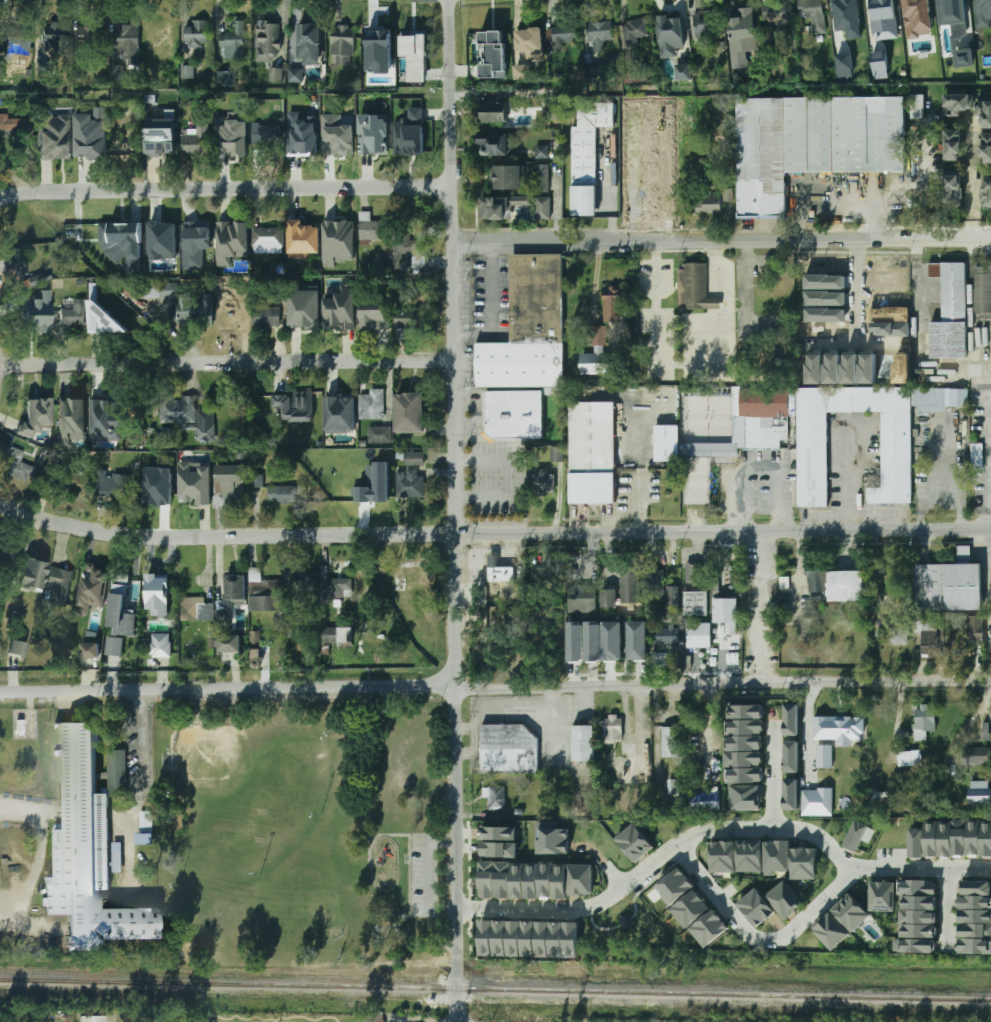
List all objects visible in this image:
building: (916, 2)
building: (949, 2)
building: (984, 2)
building: (850, 5)
building: (876, 12)
building: (774, 14)
building: (813, 14)
building: (706, 24)
building: (633, 31)
building: (196, 33)
building: (563, 34)
building: (51, 35)
building: (161, 35)
building: (597, 35)
building: (86, 36)
building: (670, 36)
building: (741, 36)
building: (268, 37)
building: (529, 39)
building: (232, 40)
building: (126, 42)
building: (309, 43)
building: (341, 45)
building: (13, 47)
building: (379, 50)
building: (493, 53)
building: (415, 55)
building: (964, 58)
building: (880, 65)
building: (845, 66)
building: (592, 69)
building: (683, 71)
building: (117, 72)
building: (187, 72)
building: (522, 72)
building: (276, 74)
building: (294, 76)
building: (226, 78)
road: (515, 93)
building: (958, 104)
building: (918, 106)
building: (552, 110)
building: (631, 111)
building: (665, 111)
building: (100, 112)
building: (493, 112)
building: (987, 115)
building: (14, 124)
building: (631, 130)
building: (664, 130)
building: (374, 133)
building: (411, 133)
building: (265, 134)
building: (334, 138)
building: (53, 139)
building: (194, 141)
building: (298, 141)
building: (86, 143)
building: (160, 143)
building: (812, 143)
building: (494, 144)
building: (954, 145)
building: (127, 146)
building: (230, 148)
building: (986, 148)
building: (631, 151)
building: (665, 151)
building: (542, 152)
building: (587, 155)
building: (530, 170)
building: (666, 170)
building: (632, 171)
building: (507, 178)
building: (542, 178)
road: (971, 179)
building: (954, 190)
road: (225, 191)
building: (631, 191)
building: (665, 191)
building: (987, 192)
road: (609, 198)
building: (705, 204)
building: (502, 206)
building: (542, 208)
building: (631, 211)
building: (666, 212)
building: (370, 228)
building: (266, 238)
building: (339, 238)
building: (110, 241)
building: (160, 241)
building: (303, 241)
building: (195, 242)
road: (722, 242)
building: (230, 244)
building: (407, 252)
building: (13, 263)
building: (694, 288)
building: (982, 289)
building: (126, 291)
road: (721, 293)
road: (857, 301)
building: (181, 302)
building: (614, 303)
road: (654, 303)
road: (491, 306)
building: (328, 307)
building: (949, 312)
building: (229, 313)
building: (369, 315)
building: (32, 318)
building: (266, 318)
building: (68, 320)
building: (302, 320)
building: (104, 321)
building: (403, 324)
building: (528, 327)
building: (892, 329)
road: (833, 342)
building: (595, 362)
road: (227, 363)
building: (851, 368)
building: (902, 368)
building: (815, 369)
building: (833, 369)
building: (868, 369)
building: (885, 369)
building: (931, 399)
building: (370, 405)
building: (293, 406)
building: (103, 408)
building: (409, 412)
building: (336, 413)
building: (20, 414)
building: (514, 414)
building: (35, 415)
building: (68, 416)
building: (186, 416)
building: (762, 417)
building: (378, 434)
building: (667, 443)
building: (813, 450)
building: (592, 452)
building: (557, 454)
building: (977, 457)
building: (414, 458)
road: (937, 463)
building: (14, 465)
road: (757, 466)
road: (849, 477)
building: (47, 480)
building: (255, 480)
building: (368, 480)
building: (229, 482)
building: (541, 482)
building: (409, 483)
building: (157, 484)
building: (80, 485)
building: (111, 485)
building: (191, 489)
building: (280, 494)
road: (455, 512)
road: (493, 535)
road: (986, 562)
building: (536, 572)
building: (504, 573)
building: (694, 573)
building: (32, 574)
road: (798, 577)
building: (299, 581)
building: (815, 581)
building: (653, 583)
building: (21, 584)
building: (57, 585)
building: (628, 585)
building: (949, 585)
building: (91, 586)
building: (847, 587)
building: (335, 588)
building: (235, 590)
building: (158, 594)
building: (264, 596)
building: (580, 597)
building: (673, 598)
building: (606, 599)
building: (119, 600)
building: (695, 604)
parking lot: (758, 605)
building: (195, 610)
road: (760, 610)
building: (719, 614)
building: (976, 629)
building: (892, 631)
building: (327, 635)
building: (667, 636)
building: (342, 638)
building: (929, 638)
building: (578, 640)
building: (640, 640)
building: (596, 641)
building: (616, 641)
building: (228, 644)
building: (161, 645)
building: (115, 646)
building: (17, 648)
building: (90, 650)
building: (964, 653)
building: (255, 657)
road: (495, 690)
building: (747, 712)
building: (794, 718)
building: (923, 722)
building: (748, 727)
building: (841, 727)
building: (617, 729)
building: (987, 731)
road: (138, 738)
building: (670, 742)
building: (748, 742)
building: (586, 743)
building: (508, 749)
building: (827, 754)
building: (794, 755)
building: (974, 756)
building: (747, 758)
building: (910, 758)
building: (747, 773)
road: (773, 777)
building: (674, 786)
building: (794, 792)
building: (980, 792)
building: (747, 796)
building: (497, 798)
building: (819, 800)
park: (241, 801)
building: (705, 801)
road: (17, 809)
building: (144, 828)
road: (718, 830)
park: (302, 831)
building: (501, 832)
building: (860, 836)
building: (920, 838)
building: (934, 838)
building: (948, 838)
building: (962, 838)
building: (976, 838)
building: (987, 838)
building: (555, 840)
building: (638, 842)
building: (502, 848)
building: (89, 851)
road: (409, 851)
building: (752, 855)
building: (725, 856)
building: (780, 856)
building: (117, 857)
building: (806, 862)
road: (428, 863)
parking lot: (422, 875)
building: (490, 878)
building: (504, 878)
building: (581, 878)
building: (519, 879)
building: (533, 879)
building: (548, 880)
building: (562, 880)
building: (677, 886)
building: (920, 887)
building: (975, 888)
building: (884, 895)
building: (787, 897)
road: (717, 898)
building: (920, 901)
building: (975, 903)
building: (759, 906)
road: (816, 906)
building: (694, 908)
road: (944, 908)
building: (854, 912)
building: (920, 915)
building: (975, 917)
building: (712, 928)
building: (920, 929)
building: (834, 930)
building: (975, 932)
building: (489, 937)
building: (503, 937)
building: (517, 937)
building: (531, 937)
building: (545, 937)
building: (559, 937)
building: (573, 937)
building: (920, 943)
building: (975, 946)
railway: (495, 990)
building: (95, 1018)

